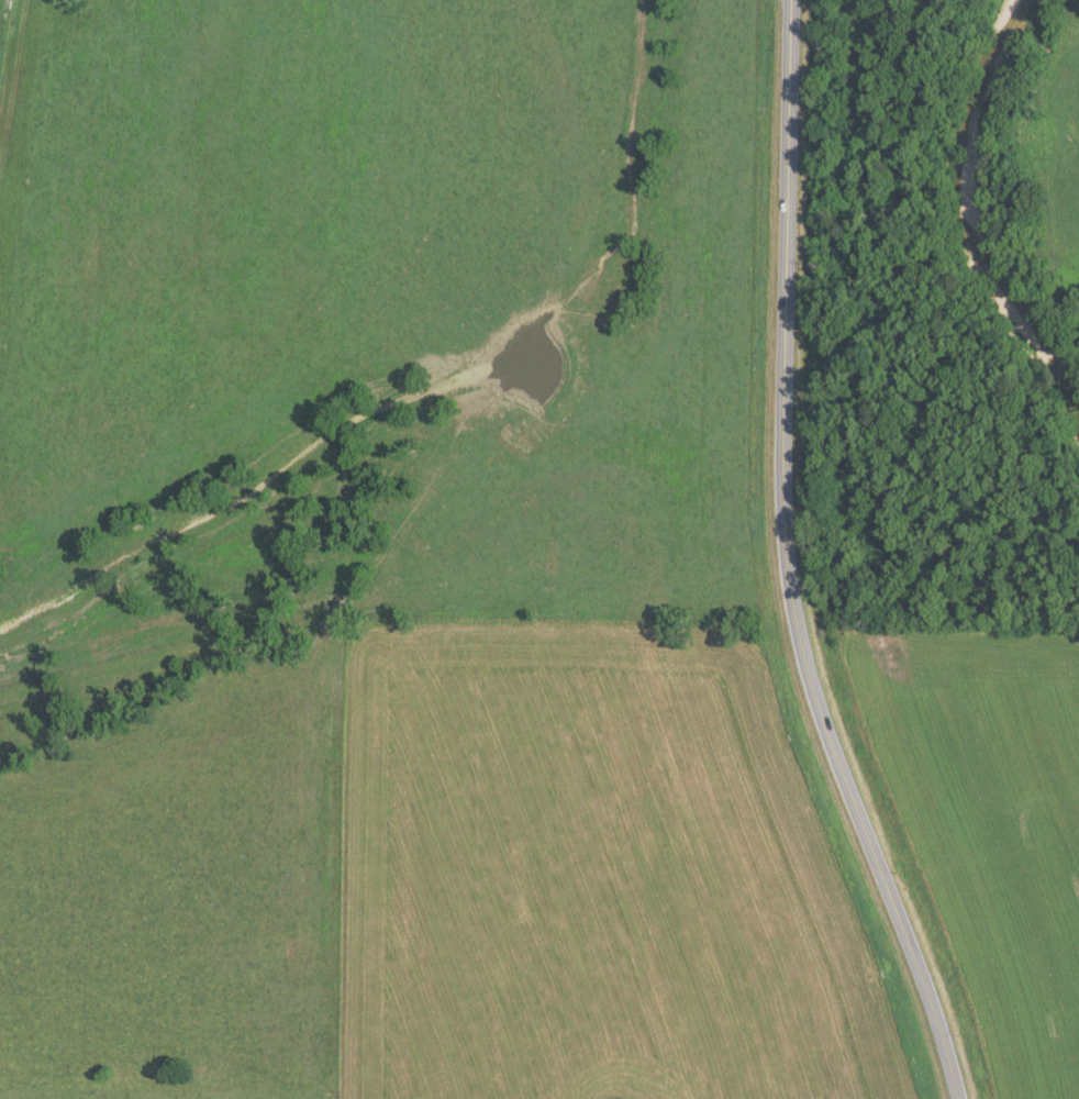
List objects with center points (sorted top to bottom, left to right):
road: (783, 564)

